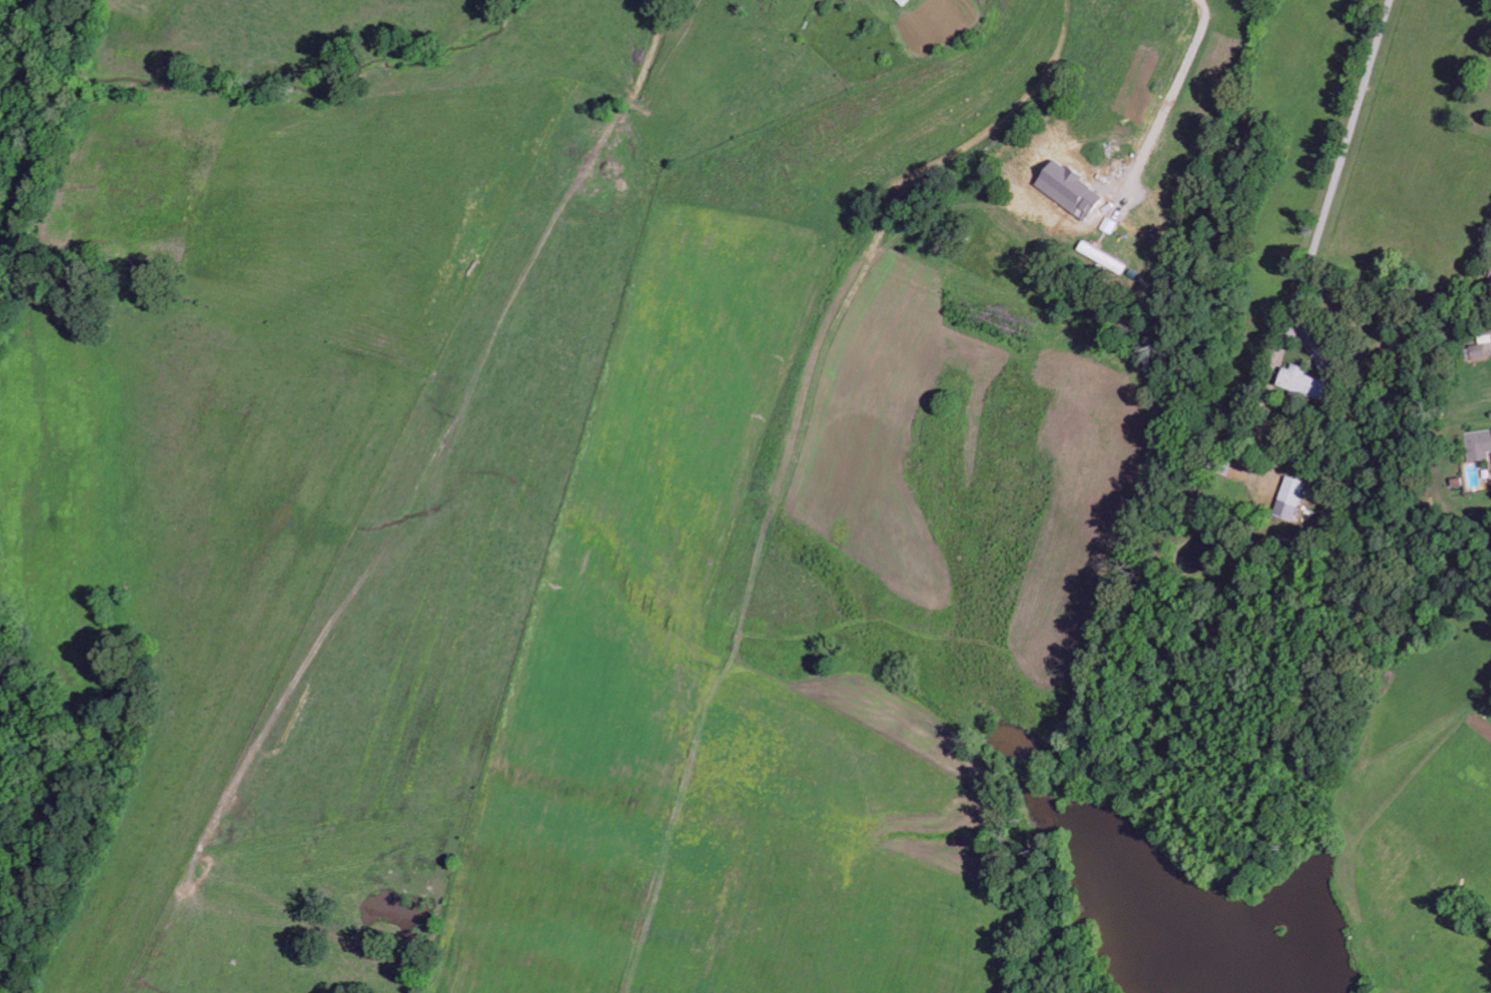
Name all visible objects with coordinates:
building: (1103, 258)
building: (1300, 382)
building: (1479, 445)
building: (1226, 466)
building: (1291, 499)

